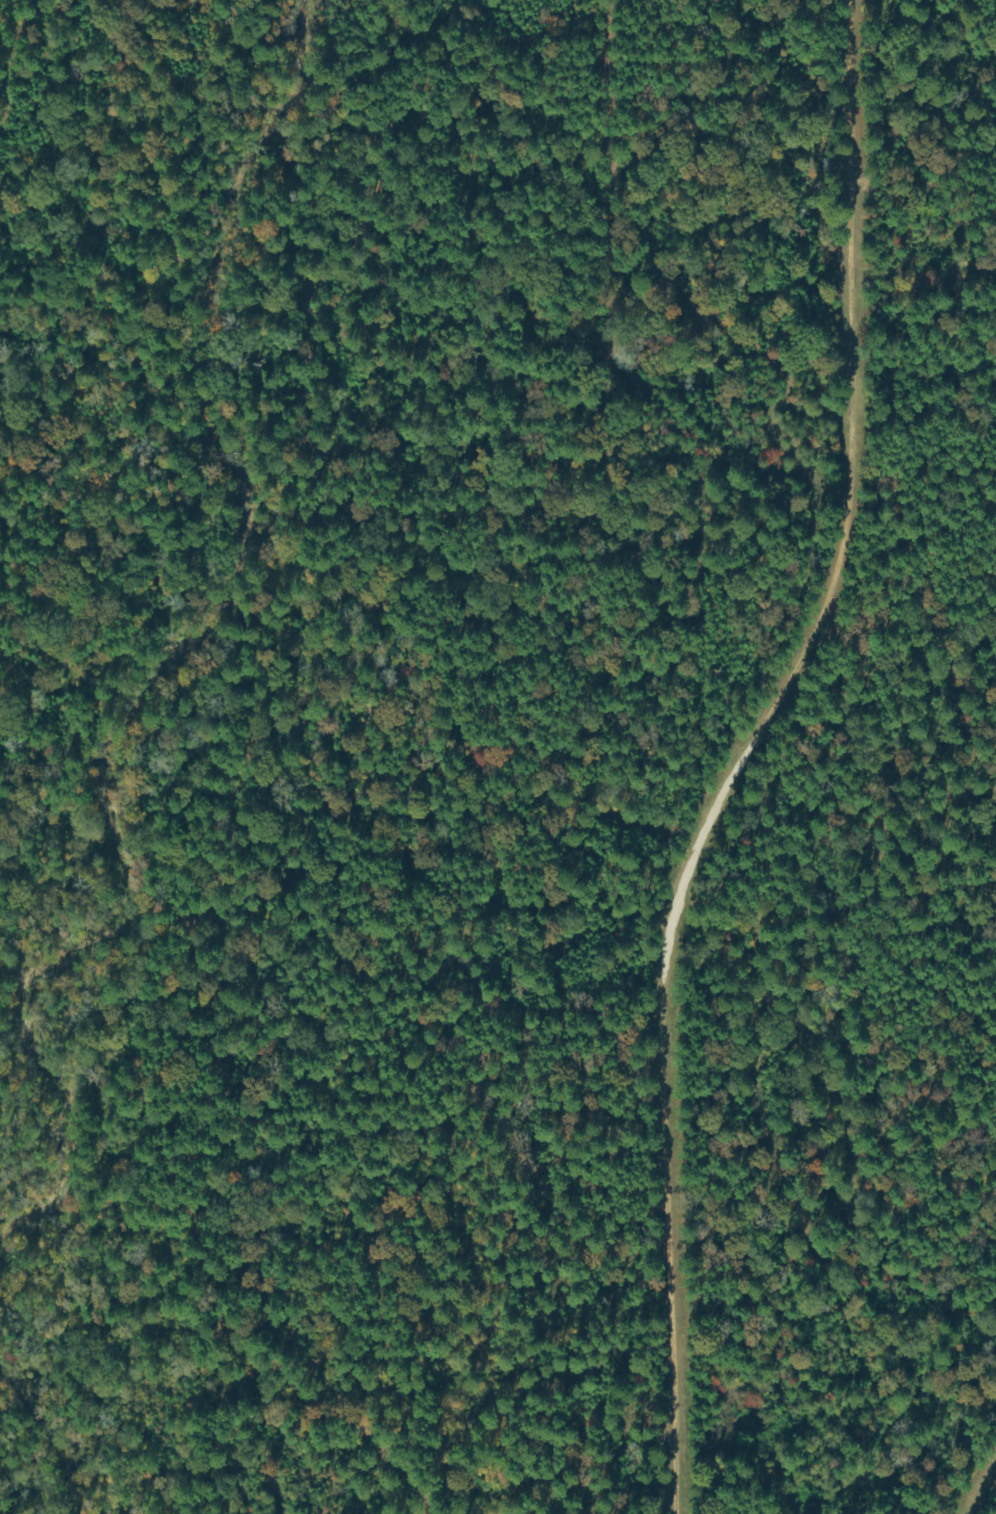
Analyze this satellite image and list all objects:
road: (714, 743)
road: (969, 1476)

